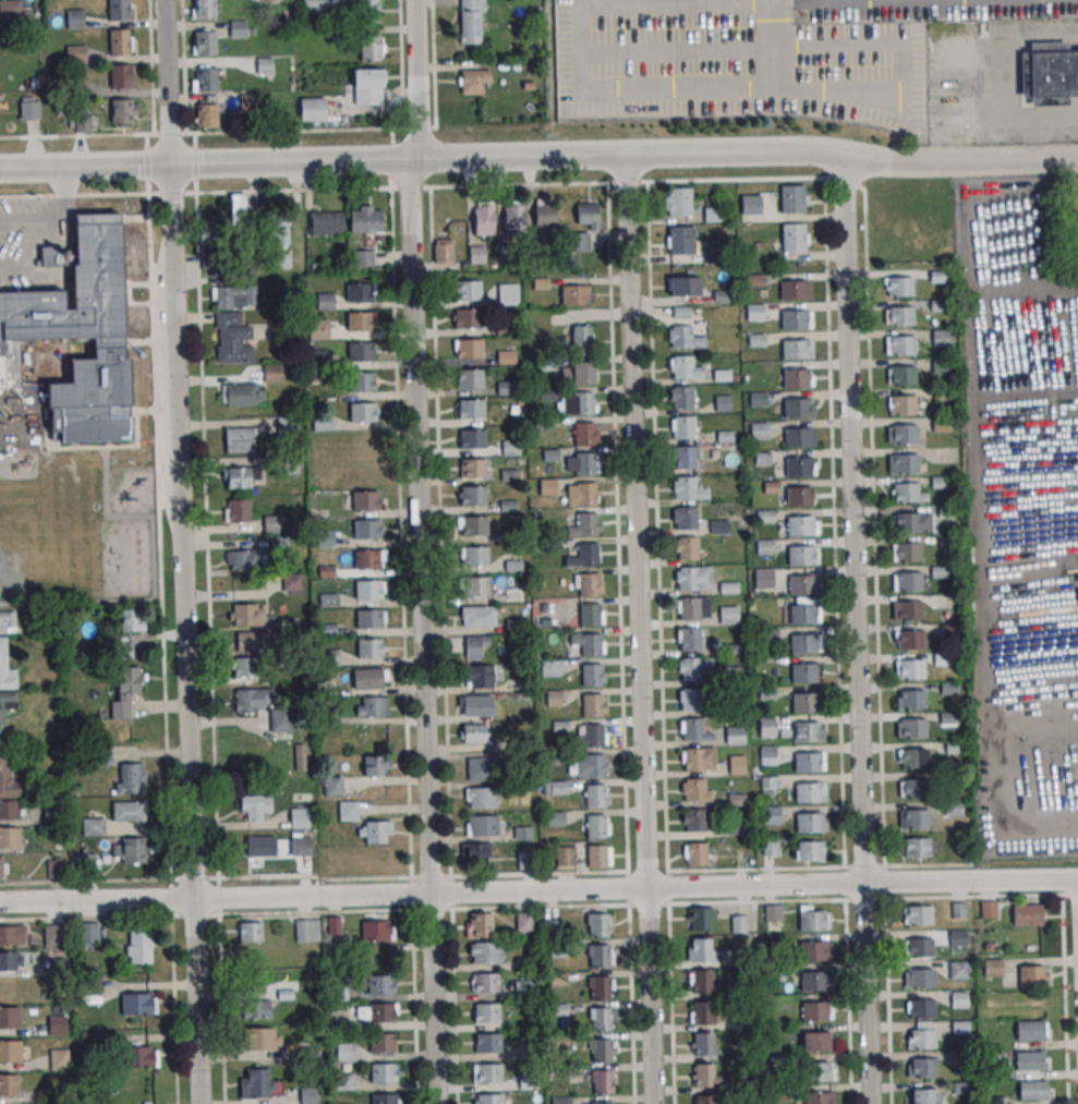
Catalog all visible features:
building: (265, 0)
building: (314, 3)
building: (10, 7)
building: (204, 9)
building: (117, 10)
building: (368, 11)
building: (73, 19)
building: (471, 21)
building: (238, 28)
building: (118, 44)
building: (205, 44)
road: (768, 45)
building: (371, 47)
building: (74, 53)
road: (400, 63)
building: (264, 65)
building: (1052, 72)
road: (1004, 73)
building: (119, 75)
building: (204, 78)
road: (416, 78)
building: (473, 81)
building: (367, 86)
building: (70, 87)
road: (760, 89)
building: (249, 102)
building: (312, 109)
building: (28, 110)
building: (120, 110)
building: (206, 116)
road: (280, 130)
road: (540, 155)
road: (771, 179)
building: (790, 198)
building: (678, 201)
building: (750, 205)
building: (239, 206)
road: (62, 208)
building: (544, 214)
building: (588, 215)
building: (513, 218)
building: (366, 221)
building: (326, 222)
building: (277, 228)
building: (479, 228)
building: (210, 232)
building: (792, 236)
building: (679, 240)
road: (29, 241)
building: (443, 251)
building: (363, 257)
building: (683, 286)
building: (899, 286)
building: (467, 289)
building: (795, 289)
building: (359, 292)
road: (1033, 292)
building: (507, 293)
building: (574, 293)
building: (233, 296)
building: (325, 301)
building: (754, 312)
building: (900, 315)
building: (467, 317)
building: (792, 319)
building: (359, 322)
building: (318, 328)
building: (82, 330)
building: (679, 336)
building: (580, 340)
building: (233, 342)
building: (901, 344)
building: (468, 348)
building: (794, 349)
building: (360, 351)
building: (506, 356)
building: (681, 366)
building: (582, 372)
building: (901, 375)
building: (469, 377)
building: (795, 378)
building: (360, 380)
building: (243, 395)
building: (681, 397)
building: (756, 399)
building: (582, 402)
building: (722, 403)
building: (903, 404)
building: (796, 408)
building: (470, 409)
building: (361, 412)
building: (682, 427)
building: (759, 429)
building: (583, 433)
building: (904, 434)
building: (796, 437)
building: (470, 438)
building: (238, 439)
building: (683, 457)
building: (761, 458)
building: (583, 463)
building: (905, 463)
building: (797, 466)
building: (471, 469)
building: (238, 476)
building: (547, 486)
building: (685, 487)
road: (995, 488)
building: (905, 492)
building: (584, 494)
building: (472, 495)
building: (798, 496)
building: (364, 500)
building: (237, 510)
building: (764, 515)
building: (686, 518)
road: (833, 522)
building: (906, 522)
building: (585, 523)
building: (473, 525)
building: (798, 525)
road: (656, 526)
building: (718, 526)
building: (365, 529)
road: (438, 532)
road: (399, 533)
building: (763, 546)
building: (687, 548)
road: (181, 551)
building: (907, 551)
building: (586, 554)
building: (474, 555)
building: (799, 556)
building: (244, 559)
building: (365, 559)
building: (687, 578)
building: (763, 579)
building: (908, 581)
building: (291, 582)
building: (588, 584)
building: (800, 584)
building: (475, 585)
building: (366, 590)
building: (689, 608)
building: (906, 610)
building: (588, 614)
building: (801, 614)
building: (245, 615)
building: (728, 615)
building: (477, 616)
building: (132, 619)
building: (367, 619)
building: (8, 621)
road: (640, 628)
road: (422, 630)
road: (857, 631)
building: (767, 634)
building: (689, 639)
building: (910, 639)
building: (249, 641)
building: (590, 644)
building: (801, 644)
building: (476, 645)
building: (368, 648)
building: (245, 667)
building: (7, 668)
building: (690, 668)
building: (910, 668)
building: (802, 672)
building: (590, 675)
building: (730, 675)
building: (479, 676)
building: (368, 678)
building: (124, 689)
building: (554, 697)
building: (690, 699)
building: (912, 699)
building: (249, 701)
building: (803, 703)
building: (475, 704)
building: (591, 705)
building: (374, 706)
building: (280, 720)
building: (2, 721)
building: (765, 726)
building: (692, 728)
building: (912, 728)
building: (804, 731)
building: (473, 732)
building: (734, 735)
building: (592, 736)
building: (767, 754)
building: (300, 756)
building: (913, 757)
building: (692, 759)
building: (806, 761)
building: (4, 763)
building: (736, 764)
building: (594, 765)
building: (376, 766)
building: (479, 767)
building: (130, 778)
building: (768, 785)
building: (332, 786)
building: (555, 787)
building: (913, 788)
building: (693, 789)
building: (807, 791)
building: (594, 796)
building: (482, 797)
building: (255, 806)
building: (10, 810)
building: (348, 810)
building: (129, 811)
building: (45, 813)
building: (302, 814)
building: (770, 815)
building: (915, 818)
building: (695, 820)
building: (808, 822)
building: (483, 825)
building: (93, 826)
building: (594, 826)
building: (374, 832)
building: (10, 836)
road: (627, 840)
building: (261, 847)
building: (770, 847)
building: (916, 847)
building: (301, 848)
building: (129, 850)
building: (808, 850)
building: (475, 852)
building: (695, 853)
building: (565, 857)
building: (595, 857)
building: (85, 861)
building: (334, 861)
building: (2, 866)
building: (54, 868)
road: (538, 890)
road: (865, 898)
building: (988, 909)
building: (958, 910)
building: (1026, 913)
building: (918, 914)
building: (773, 917)
building: (700, 920)
building: (810, 920)
building: (523, 921)
building: (739, 923)
building: (479, 924)
building: (596, 924)
building: (335, 926)
building: (306, 930)
building: (377, 930)
building: (249, 931)
building: (90, 932)
building: (12, 935)
building: (54, 936)
building: (958, 937)
building: (140, 946)
building: (920, 947)
building: (700, 949)
building: (812, 950)
building: (483, 951)
building: (597, 956)
building: (11, 960)
building: (993, 968)
building: (959, 969)
building: (1031, 976)
building: (920, 978)
building: (701, 981)
building: (812, 981)
building: (485, 982)
building: (381, 984)
building: (597, 987)
building: (523, 990)
building: (958, 999)
building: (138, 1004)
building: (256, 1009)
building: (921, 1009)
building: (813, 1010)
building: (379, 1011)
building: (486, 1012)
building: (702, 1012)
building: (10, 1017)
building: (598, 1019)
building: (57, 1026)
building: (1029, 1030)
building: (262, 1038)
building: (921, 1039)
building: (813, 1040)
building: (380, 1043)
building: (487, 1043)
building: (703, 1043)
building: (599, 1050)
building: (10, 1051)
building: (143, 1056)
building: (60, 1058)
building: (1028, 1061)
building: (922, 1068)
building: (815, 1070)
building: (381, 1072)
building: (487, 1072)
building: (703, 1075)
building: (343, 1081)
building: (601, 1081)
building: (525, 1082)
building: (255, 1083)
building: (9, 1084)
building: (1032, 1091)
building: (310, 1095)
building: (923, 1095)
building: (815, 1097)
building: (383, 1099)
building: (488, 1099)
building: (704, 1099)
building: (561, 1100)
building: (601, 1103)

